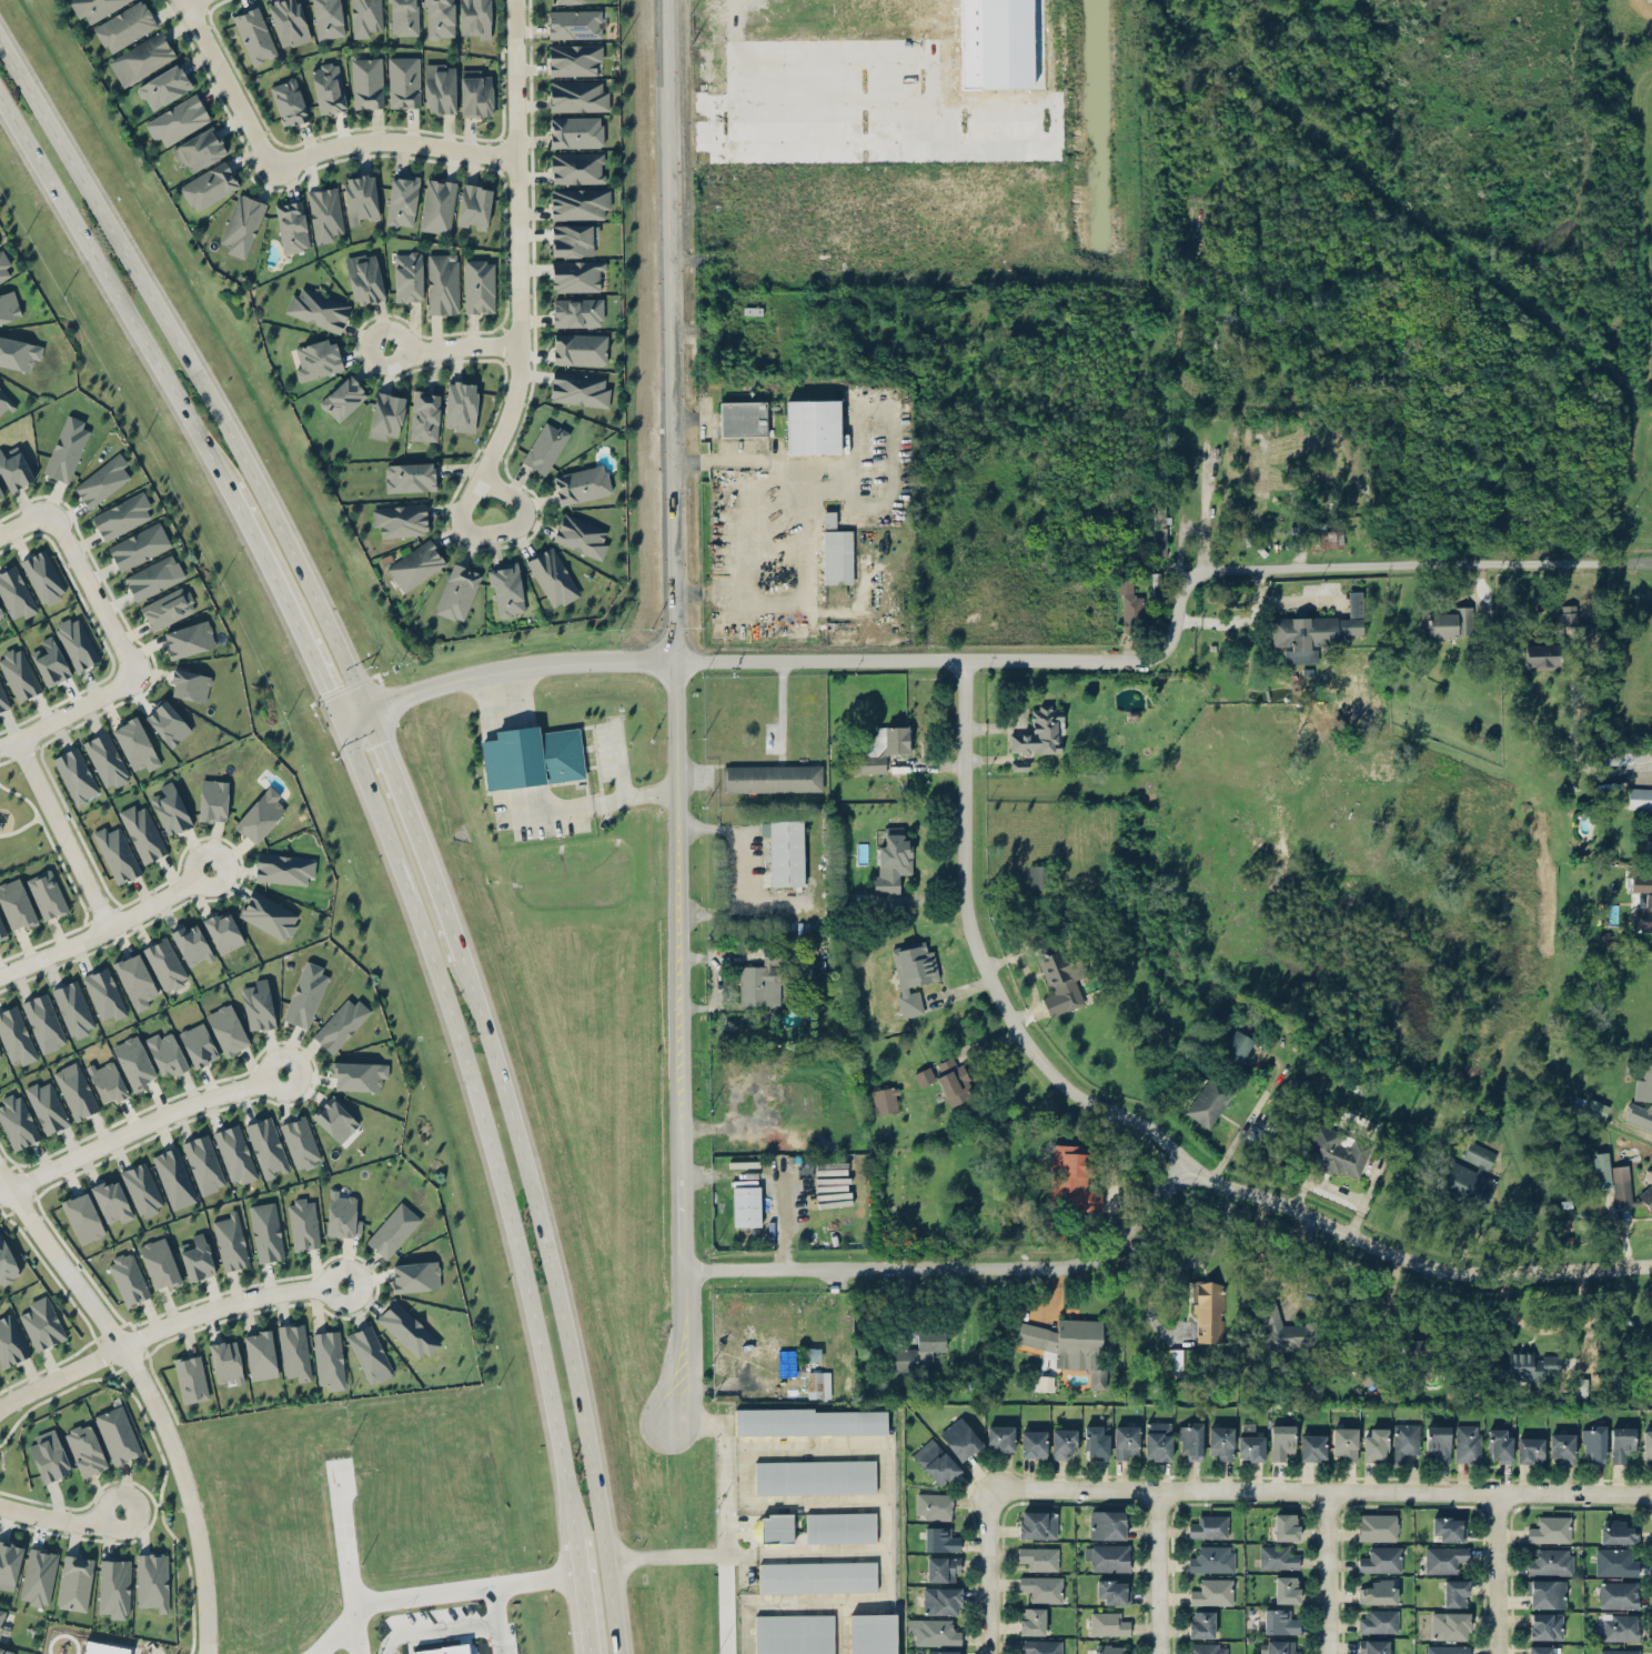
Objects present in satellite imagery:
building: (563, 0)
road: (191, 2)
building: (93, 8)
building: (365, 16)
building: (402, 17)
building: (328, 18)
building: (473, 18)
building: (440, 19)
building: (288, 21)
building: (573, 22)
building: (124, 26)
building: (254, 33)
building: (1005, 43)
building: (140, 58)
building: (574, 59)
road: (229, 80)
building: (366, 81)
building: (403, 81)
building: (163, 86)
building: (326, 87)
building: (440, 87)
building: (475, 92)
building: (576, 94)
building: (288, 101)
building: (177, 120)
building: (575, 131)
road: (394, 138)
building: (199, 149)
building: (576, 167)
building: (208, 186)
building: (360, 198)
building: (401, 199)
building: (578, 202)
building: (437, 204)
building: (474, 204)
building: (325, 213)
building: (241, 223)
building: (291, 225)
building: (574, 239)
road: (517, 240)
building: (4, 265)
building: (577, 274)
building: (407, 275)
building: (364, 278)
building: (442, 282)
building: (479, 284)
road: (113, 293)
building: (9, 305)
building: (318, 309)
building: (576, 311)
road: (669, 330)
road: (452, 345)
building: (578, 348)
building: (18, 352)
building: (315, 358)
road: (192, 368)
building: (577, 388)
building: (343, 397)
building: (4, 401)
building: (460, 404)
building: (424, 413)
building: (385, 414)
building: (743, 418)
building: (813, 425)
building: (544, 445)
building: (67, 449)
building: (13, 468)
building: (410, 475)
building: (102, 480)
road: (794, 482)
building: (582, 483)
building: (0, 494)
road: (883, 504)
building: (122, 515)
building: (400, 519)
building: (829, 519)
road: (21, 522)
road: (1188, 529)
road: (497, 531)
building: (1159, 531)
building: (580, 534)
building: (1324, 537)
building: (139, 545)
building: (837, 555)
building: (415, 563)
building: (44, 573)
building: (552, 575)
building: (153, 577)
building: (506, 588)
building: (17, 589)
road: (93, 590)
building: (456, 591)
road: (282, 603)
building: (1130, 605)
building: (168, 608)
building: (1, 609)
building: (0, 612)
building: (1567, 614)
building: (1445, 621)
building: (1583, 630)
building: (1314, 631)
road: (1180, 633)
building: (189, 639)
building: (79, 640)
building: (1543, 653)
building: (53, 658)
road: (502, 670)
building: (22, 672)
building: (190, 684)
traffic signals: (323, 689)
building: (3, 696)
traffic signals: (397, 698)
road: (69, 713)
building: (167, 722)
building: (1040, 732)
traffic signals: (382, 742)
building: (137, 743)
building: (880, 748)
building: (107, 756)
building: (532, 756)
road: (12, 758)
building: (1618, 758)
road: (1618, 764)
building: (78, 773)
building: (774, 778)
building: (1640, 798)
building: (213, 800)
road: (594, 803)
building: (171, 809)
road: (34, 811)
building: (261, 815)
road: (419, 831)
road: (64, 832)
building: (143, 832)
road: (731, 835)
building: (1650, 846)
building: (785, 851)
building: (117, 853)
building: (893, 861)
building: (283, 869)
building: (1039, 876)
building: (1640, 882)
building: (48, 893)
building: (17, 904)
building: (269, 914)
building: (1642, 914)
road: (105, 925)
building: (2, 931)
building: (223, 931)
building: (191, 944)
building: (165, 963)
building: (1059, 971)
building: (913, 973)
building: (135, 981)
building: (104, 993)
building: (305, 994)
building: (259, 1004)
building: (73, 1008)
building: (43, 1022)
building: (341, 1024)
building: (226, 1029)
building: (16, 1036)
road: (677, 1041)
building: (198, 1044)
building: (1236, 1046)
building: (167, 1053)
building: (0, 1054)
building: (134, 1062)
building: (359, 1075)
building: (924, 1076)
building: (108, 1081)
building: (954, 1082)
building: (75, 1090)
building: (885, 1100)
building: (1642, 1100)
building: (1209, 1101)
building: (47, 1106)
building: (1596, 1109)
building: (335, 1119)
building: (17, 1121)
road: (482, 1122)
road: (1149, 1123)
road: (139, 1125)
road: (1240, 1132)
building: (300, 1142)
building: (266, 1146)
building: (1336, 1151)
building: (234, 1153)
building: (203, 1163)
building: (1601, 1170)
building: (174, 1177)
building: (1467, 1177)
road: (770, 1179)
building: (1072, 1179)
building: (1629, 1187)
building: (142, 1189)
building: (112, 1201)
building: (746, 1205)
building: (342, 1215)
building: (82, 1217)
building: (303, 1224)
building: (393, 1230)
building: (1055, 1230)
building: (266, 1232)
building: (230, 1242)
road: (1208, 1251)
building: (197, 1257)
building: (7, 1263)
building: (160, 1263)
road: (957, 1265)
building: (415, 1275)
building: (128, 1279)
road: (1278, 1283)
road: (1145, 1295)
road: (560, 1300)
building: (1209, 1311)
building: (42, 1323)
road: (164, 1325)
building: (407, 1330)
building: (1285, 1332)
building: (10, 1342)
building: (1068, 1344)
building: (1411, 1347)
building: (919, 1350)
building: (294, 1351)
building: (812, 1353)
building: (260, 1354)
building: (370, 1354)
building: (329, 1359)
building: (1176, 1359)
building: (226, 1361)
building: (1528, 1366)
building: (1364, 1370)
building: (191, 1377)
building: (818, 1384)
building: (1580, 1387)
road: (147, 1394)
building: (802, 1423)
building: (118, 1434)
building: (1000, 1437)
building: (960, 1439)
building: (1158, 1440)
building: (1406, 1440)
building: (1126, 1441)
building: (1191, 1441)
building: (1281, 1441)
road: (850, 1442)
building: (1062, 1442)
building: (1096, 1442)
building: (1221, 1442)
building: (1439, 1442)
building: (1346, 1443)
building: (1376, 1443)
building: (1468, 1443)
building: (1622, 1443)
building: (1648, 1443)
building: (1034, 1444)
building: (1500, 1444)
building: (1594, 1444)
building: (1312, 1446)
building: (1562, 1446)
building: (1250, 1447)
building: (85, 1448)
building: (1530, 1450)
building: (49, 1455)
building: (936, 1462)
building: (810, 1478)
road: (1320, 1491)
building: (934, 1505)
road: (60, 1518)
road: (722, 1521)
building: (1038, 1524)
building: (1107, 1524)
building: (1209, 1526)
building: (1286, 1526)
building: (1378, 1526)
building: (1448, 1527)
building: (773, 1528)
building: (837, 1528)
building: (1550, 1530)
building: (1618, 1532)
building: (940, 1540)
building: (1108, 1556)
building: (1039, 1557)
building: (1278, 1557)
building: (1212, 1558)
building: (1444, 1558)
building: (1381, 1560)
building: (1551, 1562)
building: (1615, 1562)
building: (9, 1564)
building: (943, 1567)
road: (989, 1571)
road: (1159, 1572)
road: (1328, 1573)
road: (1494, 1573)
building: (39, 1576)
building: (814, 1577)
building: (152, 1581)
building: (74, 1582)
building: (114, 1587)
building: (1042, 1587)
building: (1287, 1588)
building: (1114, 1591)
building: (1212, 1592)
building: (1379, 1592)
building: (1455, 1593)
building: (1548, 1593)
road: (439, 1594)
building: (1618, 1594)
road: (582, 1595)
road: (816, 1600)
building: (941, 1600)
road: (724, 1603)
building: (1, 1617)
road: (497, 1620)
building: (1031, 1621)
building: (1280, 1621)
building: (1380, 1621)
building: (1108, 1624)
building: (1202, 1624)
building: (1450, 1625)
building: (1545, 1625)
road: (839, 1626)
building: (1620, 1626)
building: (934, 1631)
road: (357, 1634)
building: (790, 1634)
building: (867, 1634)
building: (1041, 1646)
building: (1277, 1646)
building: (1373, 1646)
building: (1208, 1648)
building: (1448, 1648)
building: (1112, 1650)
building: (1541, 1650)
building: (6, 1651)
building: (1619, 1651)
building: (943, 1652)

